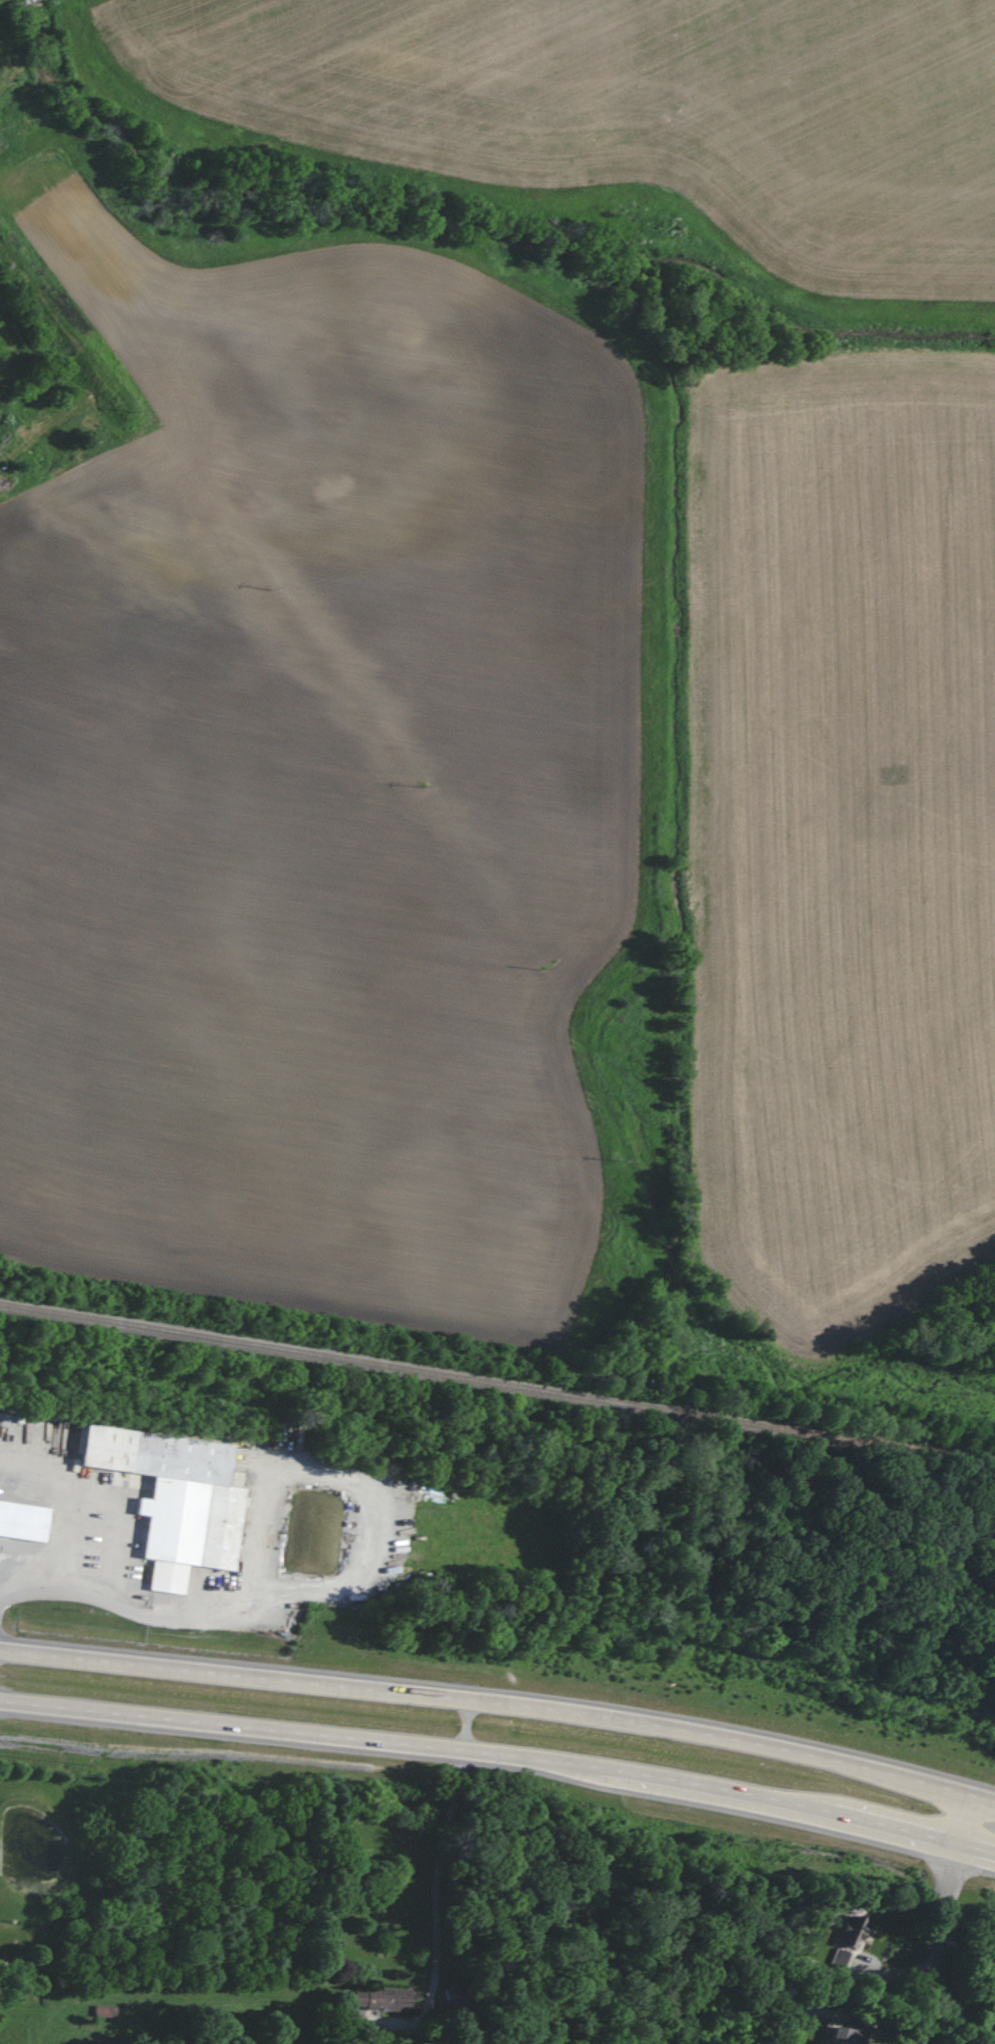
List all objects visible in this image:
railway: (214, 1368)
railway: (497, 1381)
building: (172, 1499)
building: (21, 1531)
road: (54, 1571)
road: (778, 1623)
road: (501, 1693)
road: (501, 1749)
road: (444, 1841)
road: (948, 1915)
building: (849, 1932)
building: (836, 1962)
building: (378, 1999)
building: (352, 2020)
building: (842, 2034)

